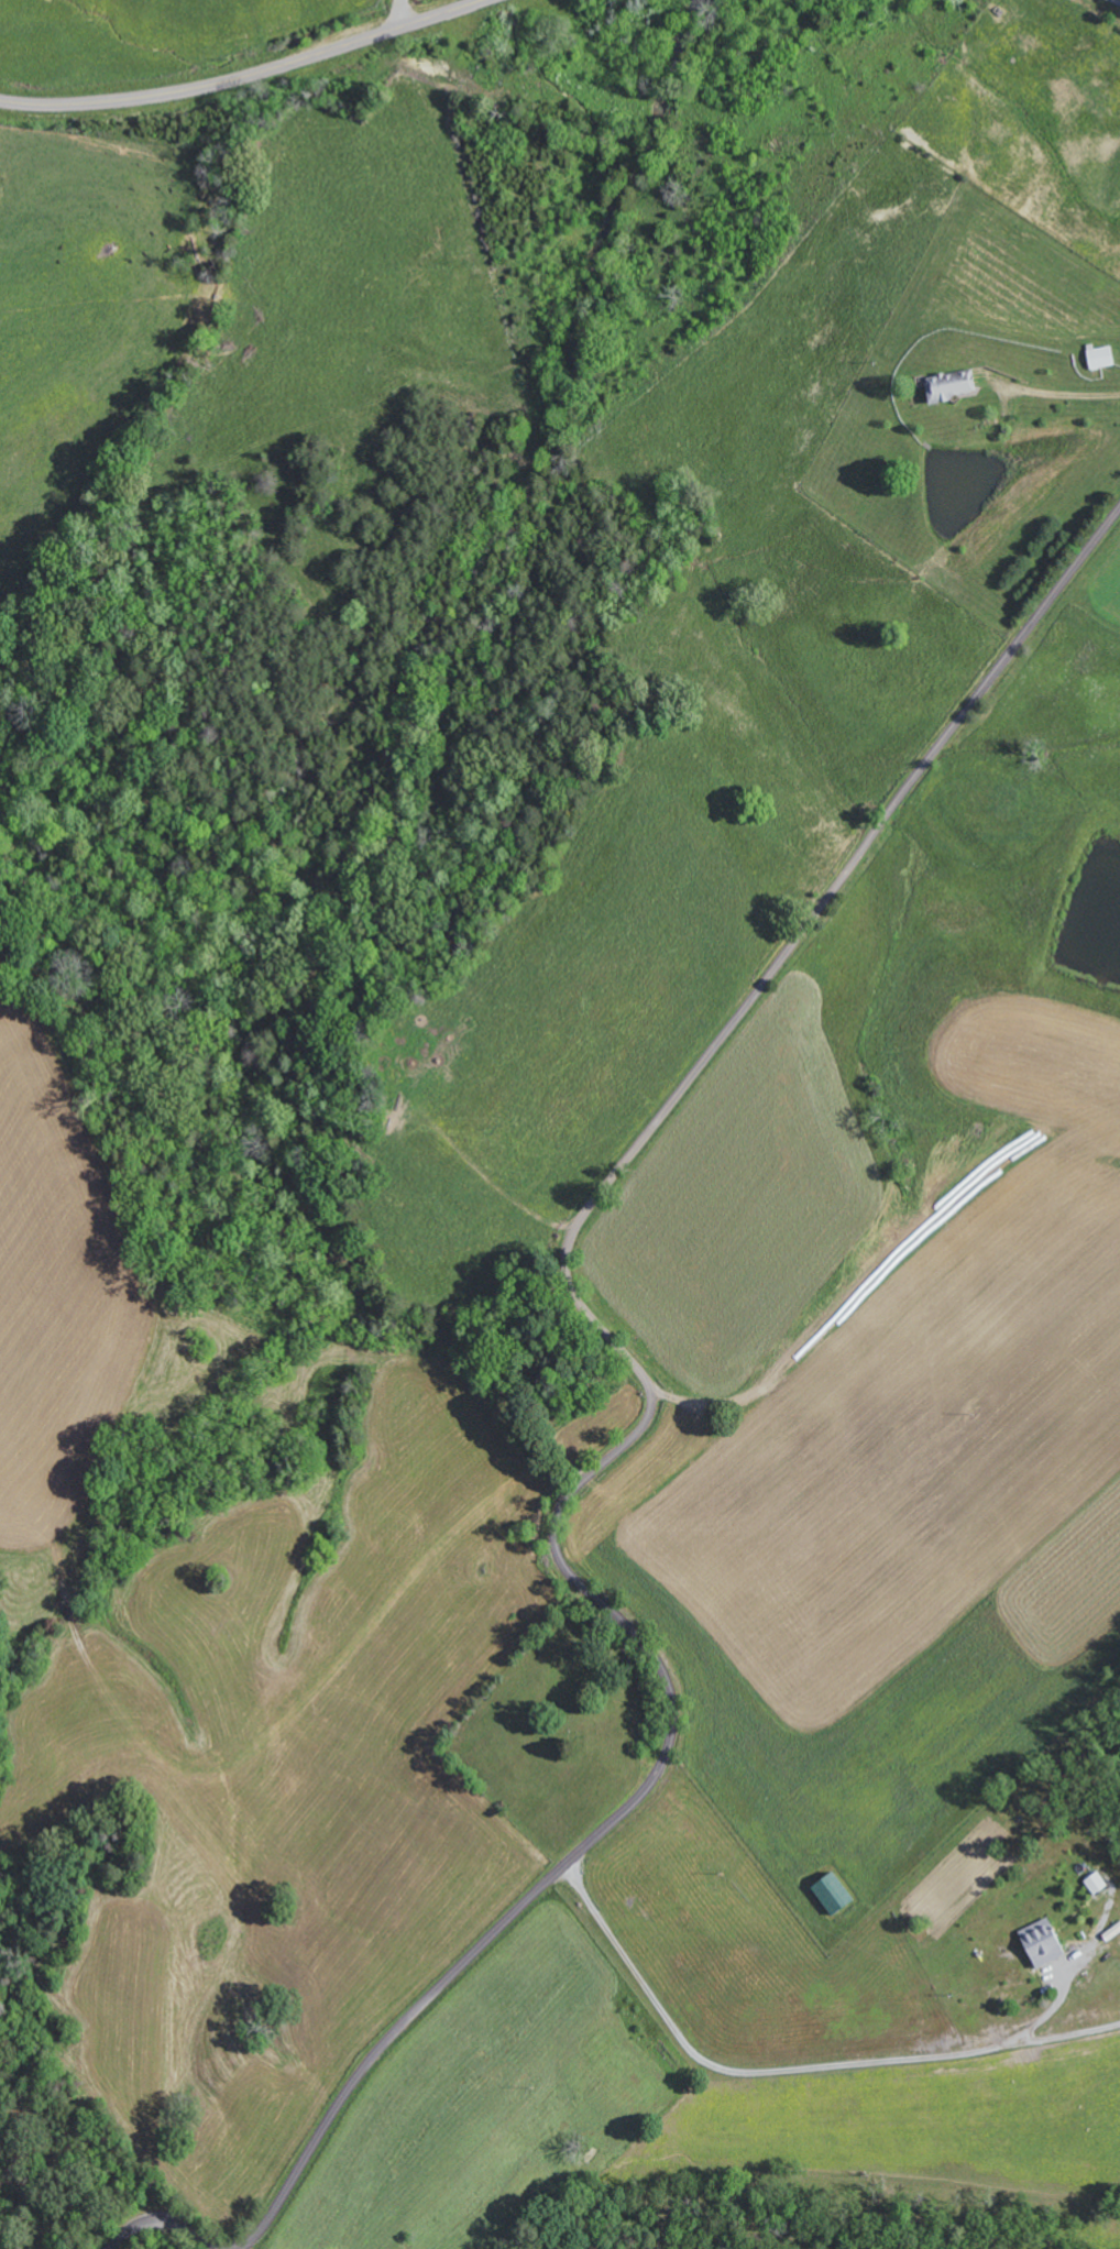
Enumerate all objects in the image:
road: (248, 75)
building: (958, 385)
road: (616, 1455)
building: (837, 1894)
building: (1047, 1942)

